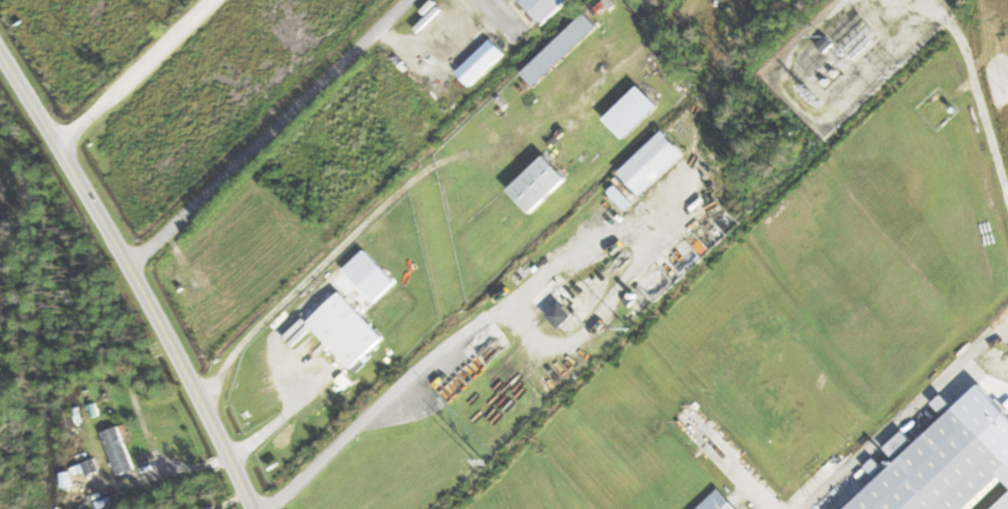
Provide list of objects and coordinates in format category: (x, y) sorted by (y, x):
building: (520, 18)
building: (832, 44)
building: (566, 50)
road: (136, 72)
building: (640, 112)
building: (660, 162)
building: (545, 185)
road: (135, 274)
building: (569, 315)
building: (353, 329)
building: (124, 451)
building: (97, 468)
building: (948, 470)
building: (725, 502)
building: (1007, 506)

